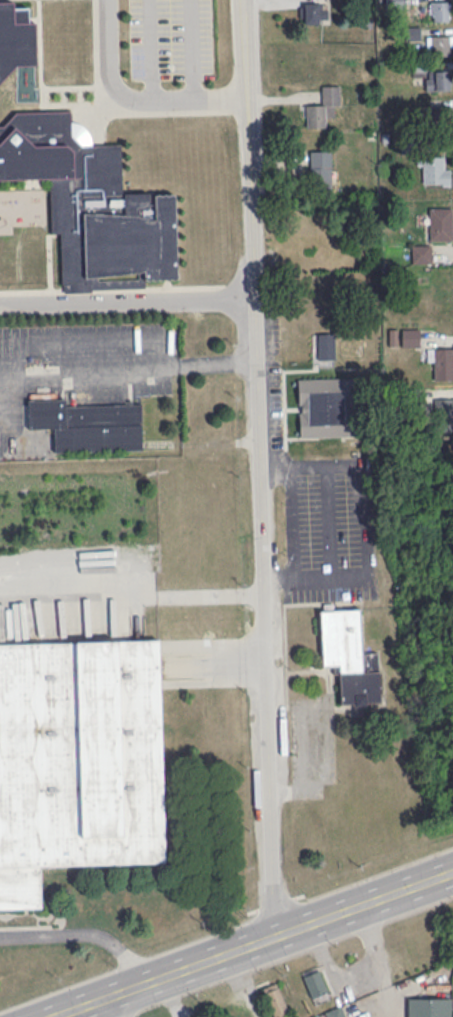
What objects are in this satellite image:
building: (439, 10)
building: (315, 12)
building: (15, 37)
building: (440, 44)
road: (150, 50)
road: (191, 50)
building: (438, 80)
road: (114, 83)
road: (222, 98)
building: (323, 107)
building: (437, 115)
building: (320, 169)
building: (434, 170)
building: (91, 203)
building: (440, 223)
building: (421, 253)
road: (128, 303)
building: (410, 336)
building: (323, 346)
building: (441, 363)
road: (129, 367)
building: (326, 406)
building: (440, 409)
building: (87, 423)
road: (262, 470)
road: (292, 522)
parking lot: (327, 528)
road: (132, 598)
building: (348, 655)
building: (79, 759)
road: (364, 907)
road: (84, 933)
road: (165, 978)
building: (315, 983)
building: (275, 1000)
road: (114, 1007)
building: (429, 1007)
building: (334, 1012)

